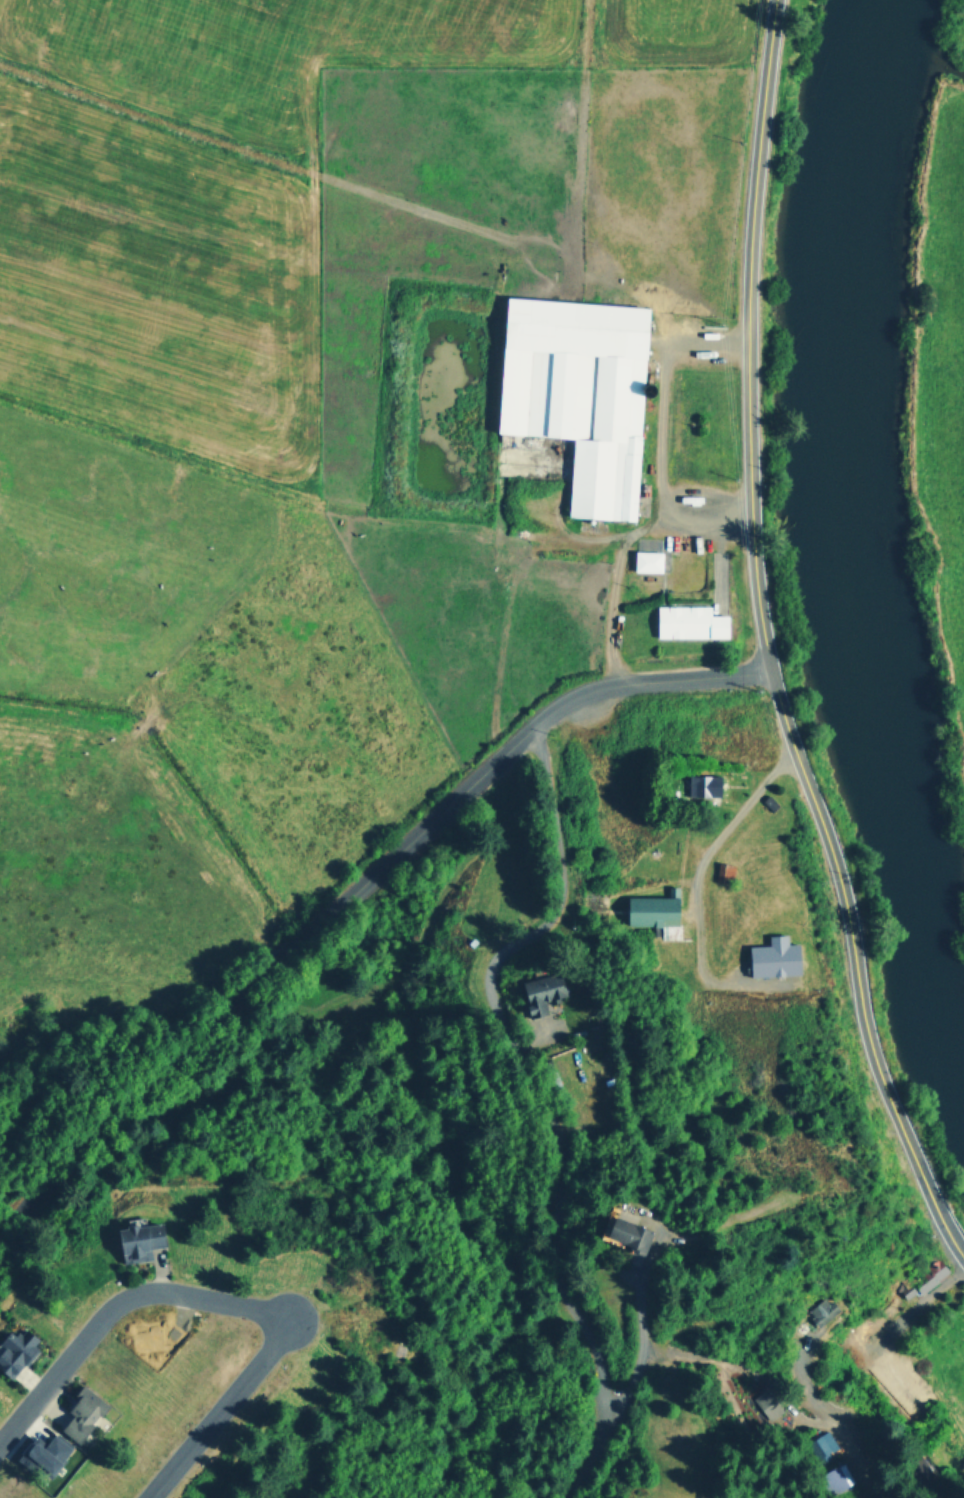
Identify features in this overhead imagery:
building: (576, 391)
crop: (950, 394)
crop: (290, 440)
building: (690, 497)
river: (857, 538)
building: (645, 560)
building: (687, 620)
road: (766, 645)
building: (701, 784)
road: (704, 863)
building: (722, 871)
road: (352, 899)
building: (651, 908)
building: (772, 956)
building: (539, 991)
road: (548, 1102)
building: (623, 1229)
building: (136, 1238)
building: (925, 1275)
road: (215, 1303)
building: (821, 1309)
building: (15, 1348)
building: (767, 1402)
building: (80, 1411)
building: (819, 1444)
building: (40, 1452)
building: (917, 1467)
building: (833, 1478)

